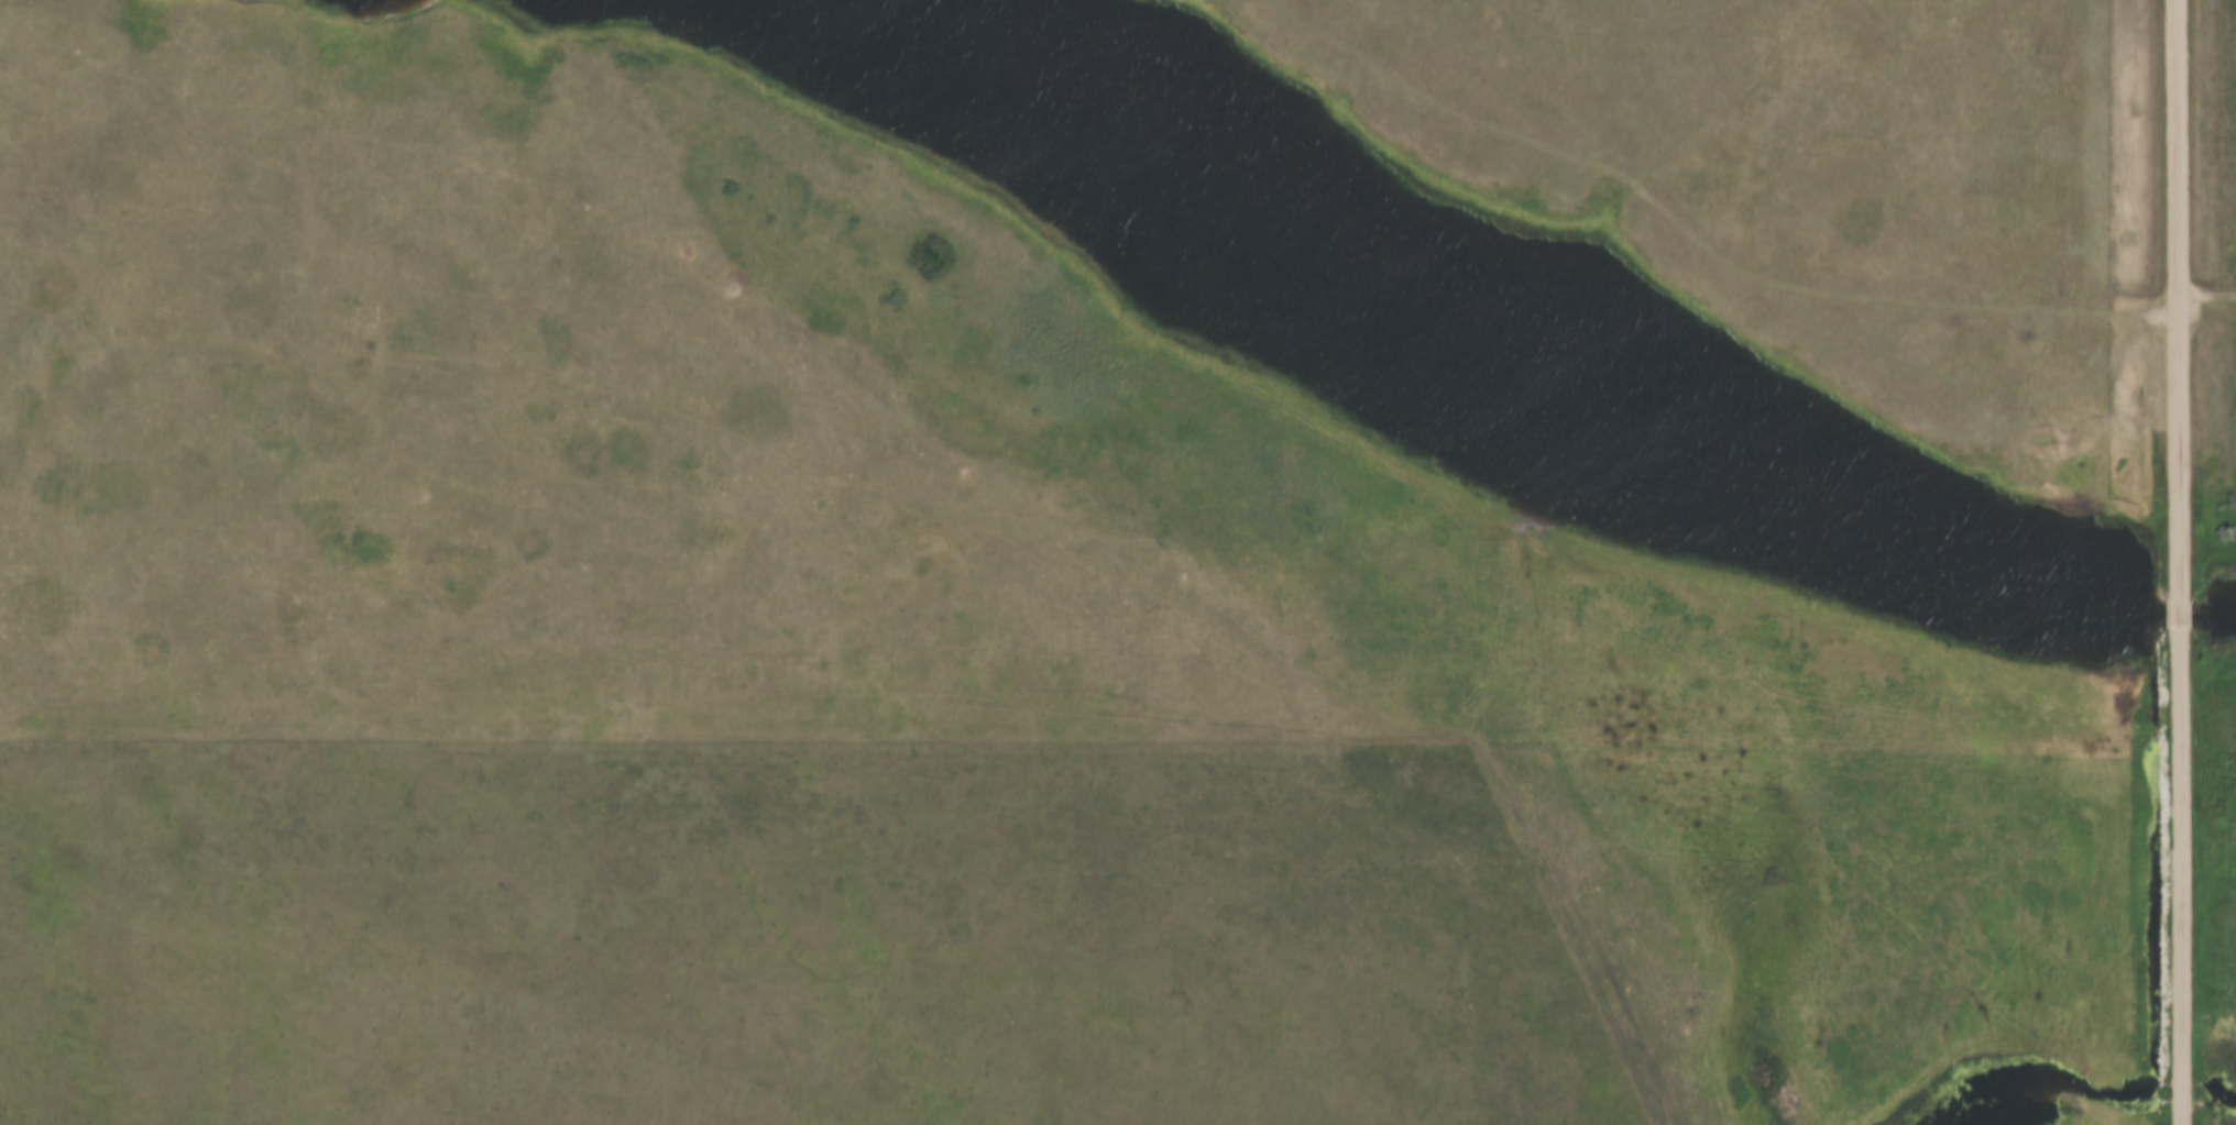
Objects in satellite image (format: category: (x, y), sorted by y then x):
road: (24, 3)
road: (2178, 300)
road: (952, 442)
road: (2180, 614)
road: (2182, 875)

